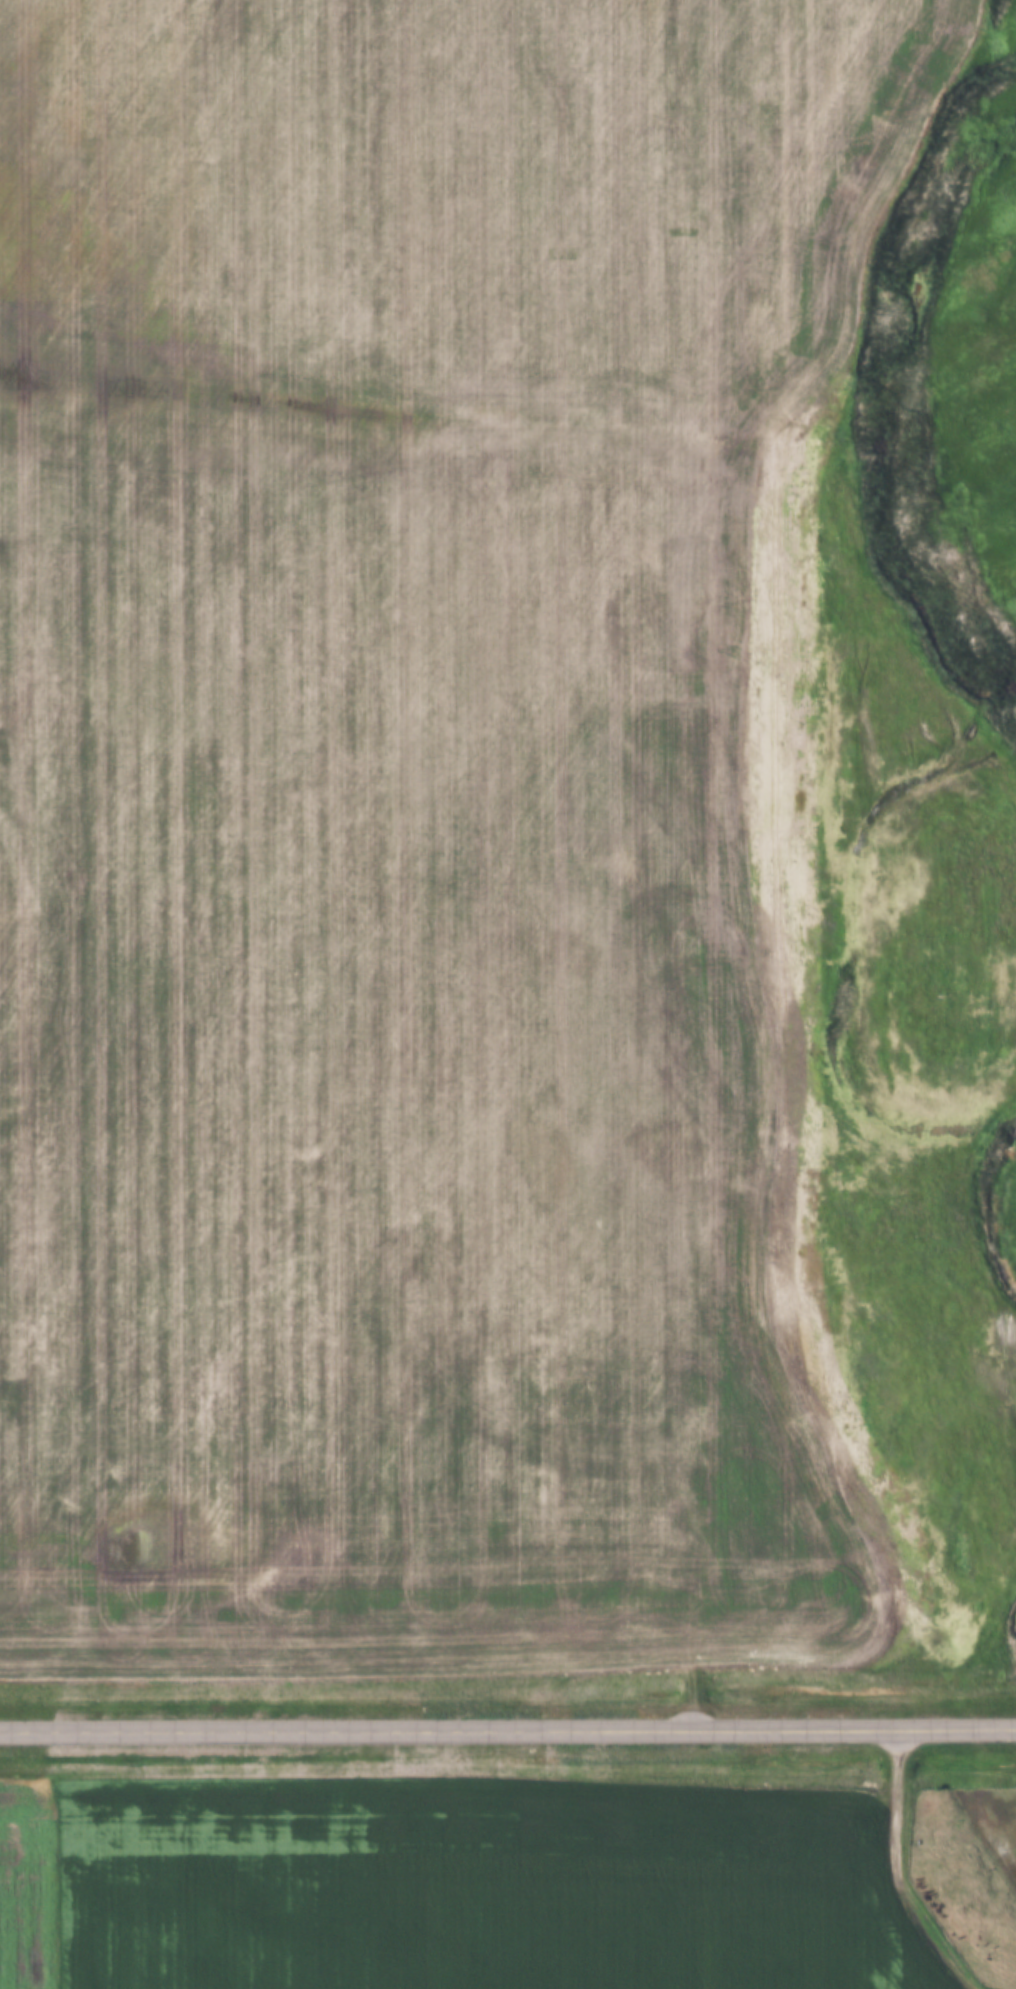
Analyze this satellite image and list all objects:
road: (508, 1724)
road: (906, 1872)

